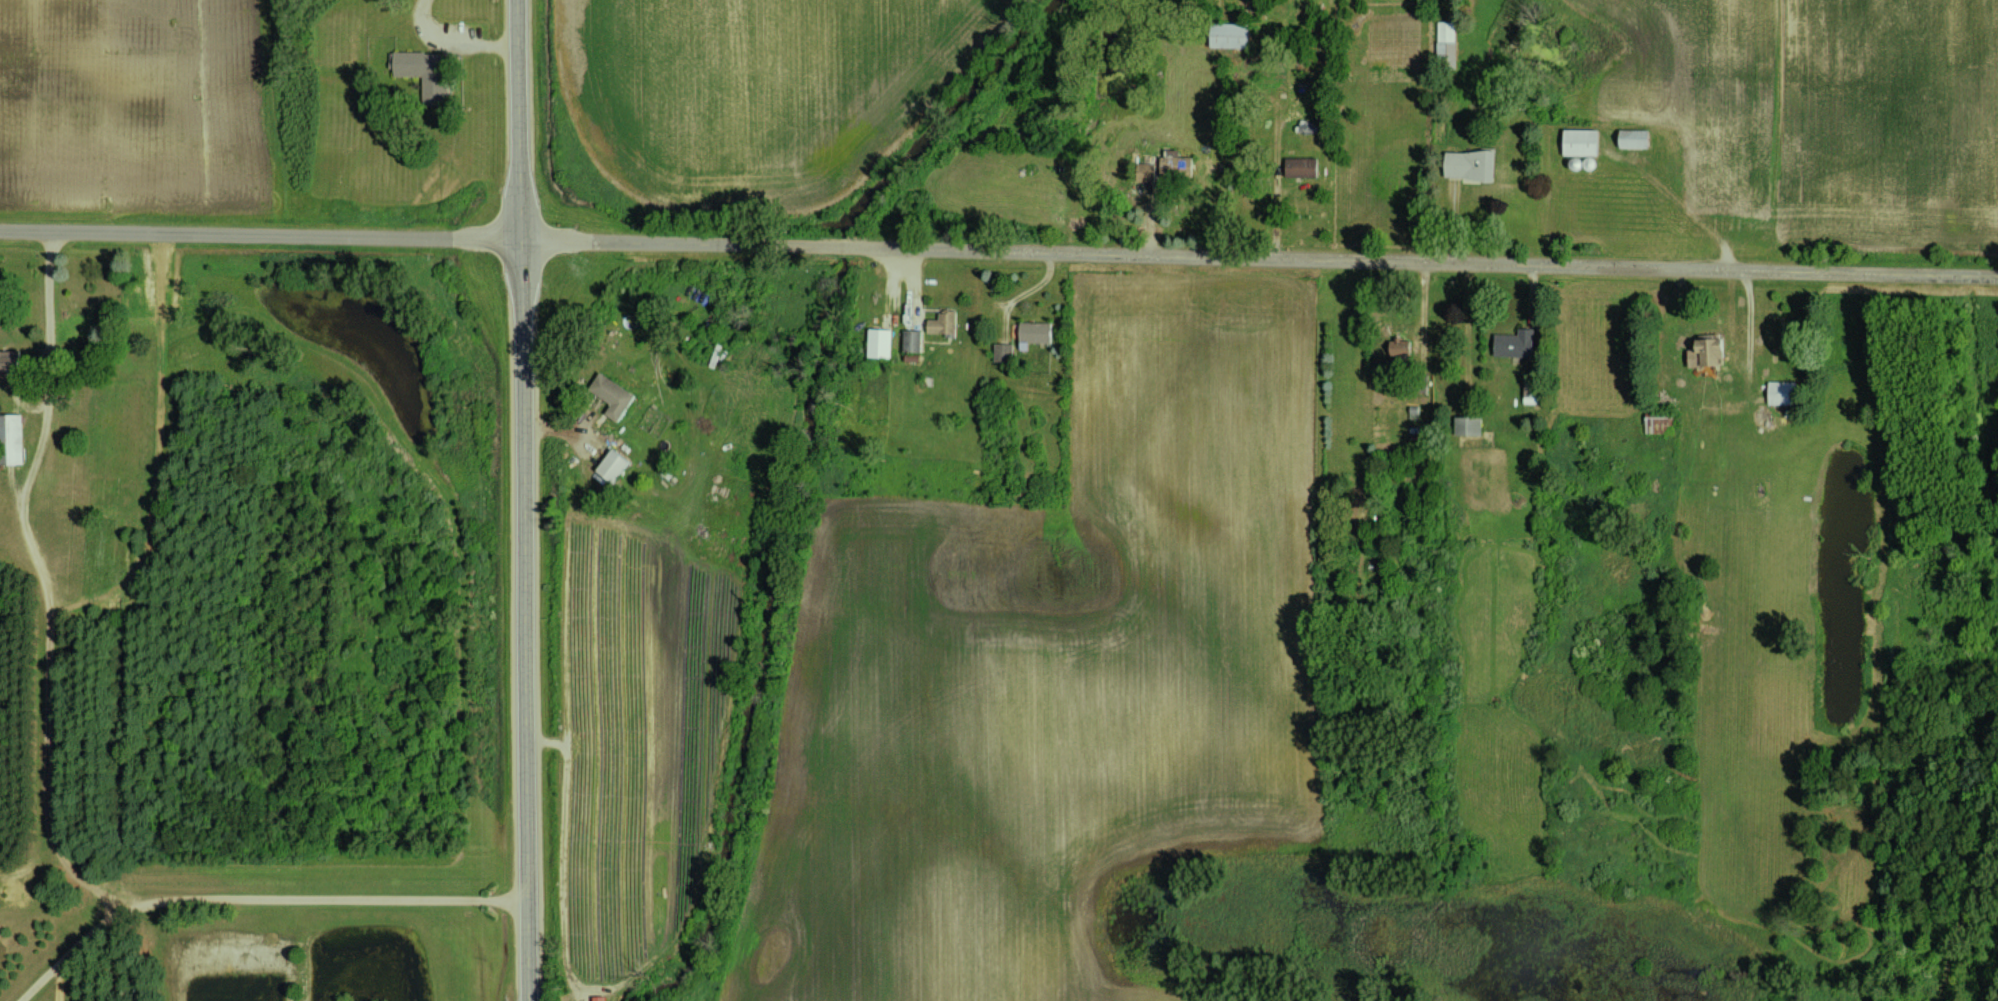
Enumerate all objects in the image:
building: (1231, 35)
building: (1448, 40)
building: (422, 70)
road: (516, 119)
building: (1630, 138)
building: (1578, 142)
building: (1474, 164)
building: (1176, 166)
building: (1303, 167)
building: (1148, 169)
road: (998, 251)
road: (1027, 291)
building: (942, 322)
building: (1035, 333)
building: (911, 340)
building: (879, 342)
building: (1520, 343)
building: (1703, 351)
building: (1003, 352)
building: (10, 359)
building: (1777, 393)
building: (612, 395)
building: (1471, 425)
building: (9, 439)
road: (152, 451)
building: (613, 465)
road: (44, 590)
road: (520, 620)
road: (330, 898)
road: (70, 943)
building: (596, 998)

